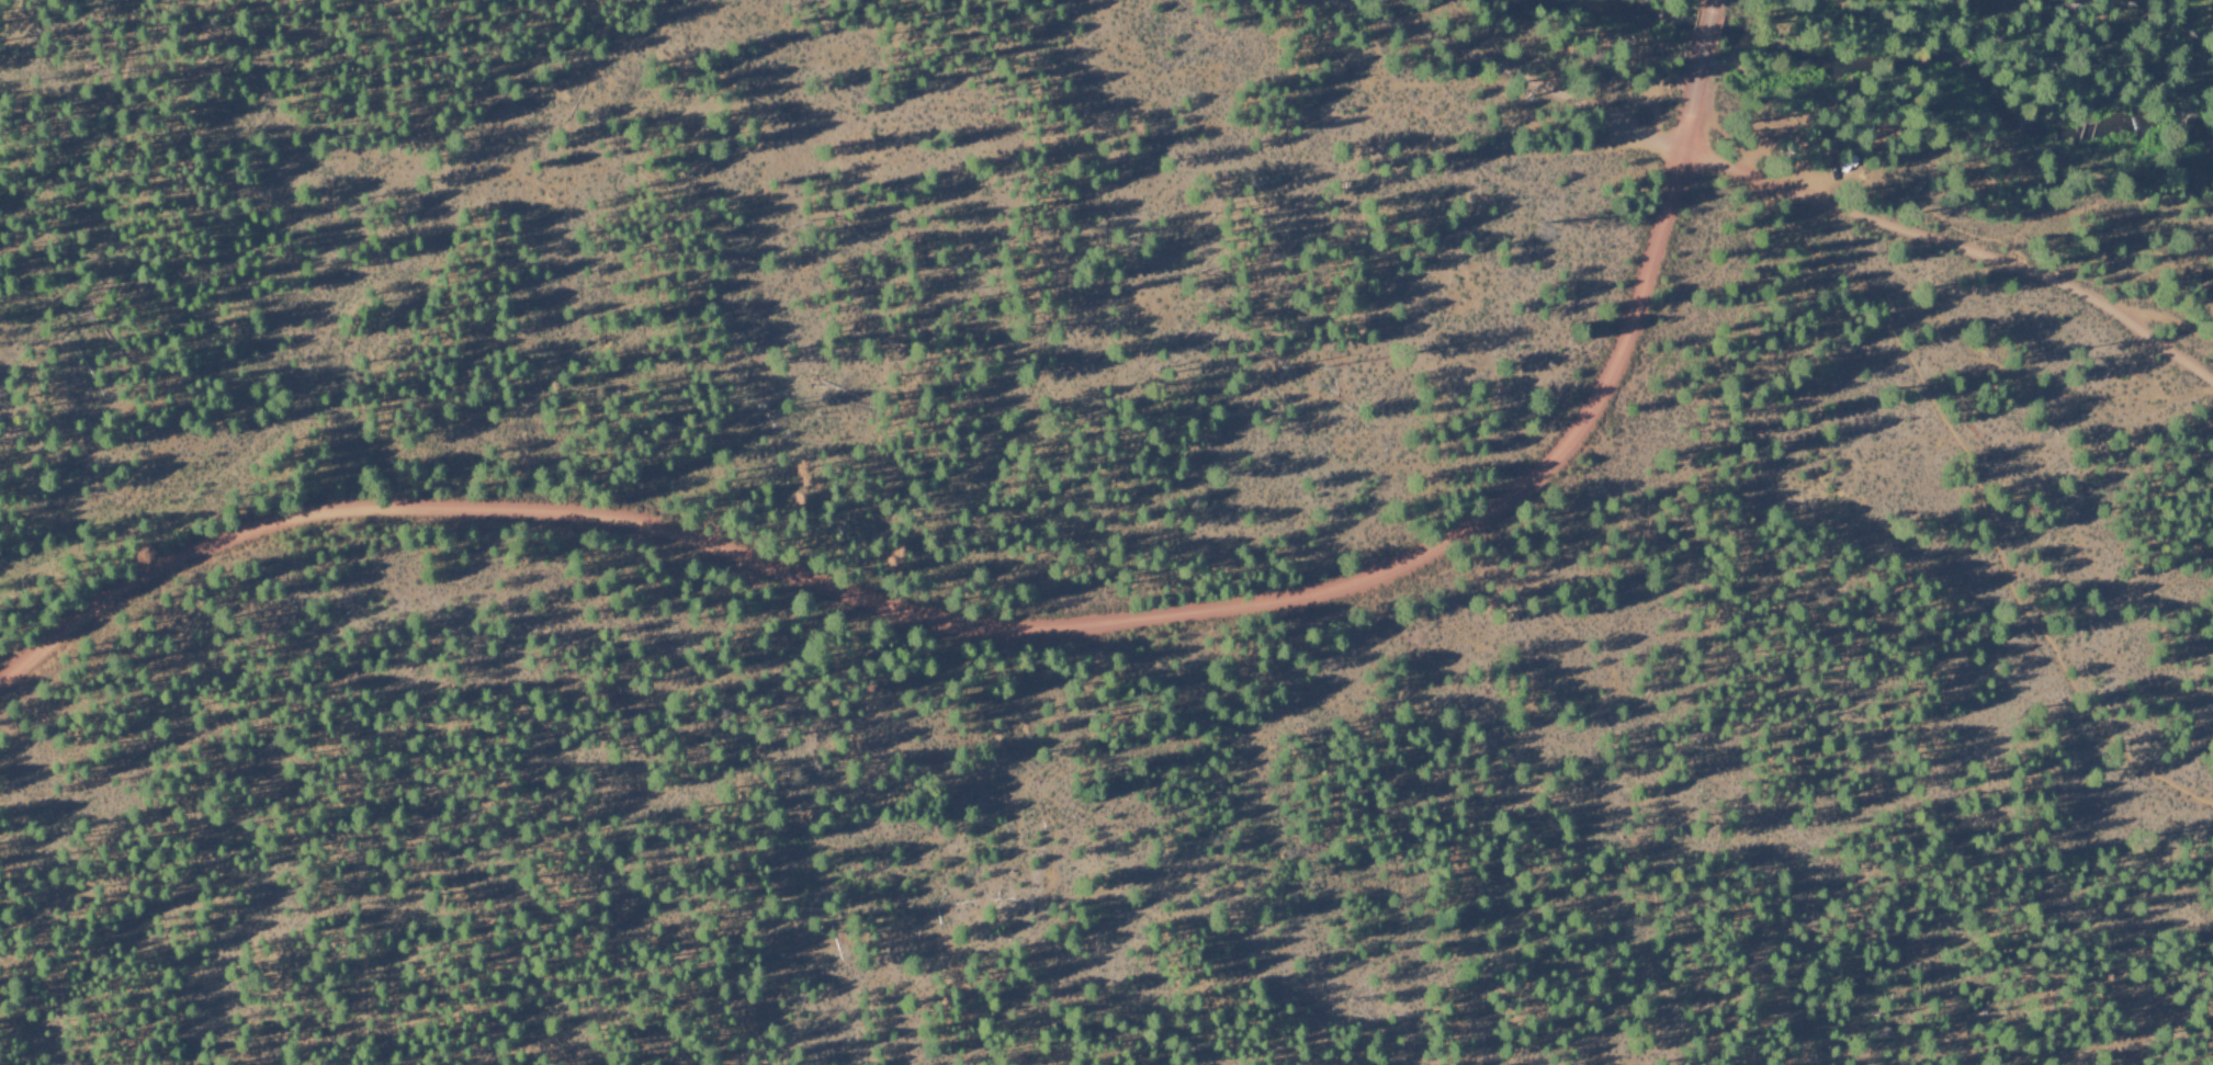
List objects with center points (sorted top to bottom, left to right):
road: (1703, 26)
road: (1505, 78)
road: (1958, 241)
road: (1951, 427)
road: (984, 628)
road: (1298, 1064)

